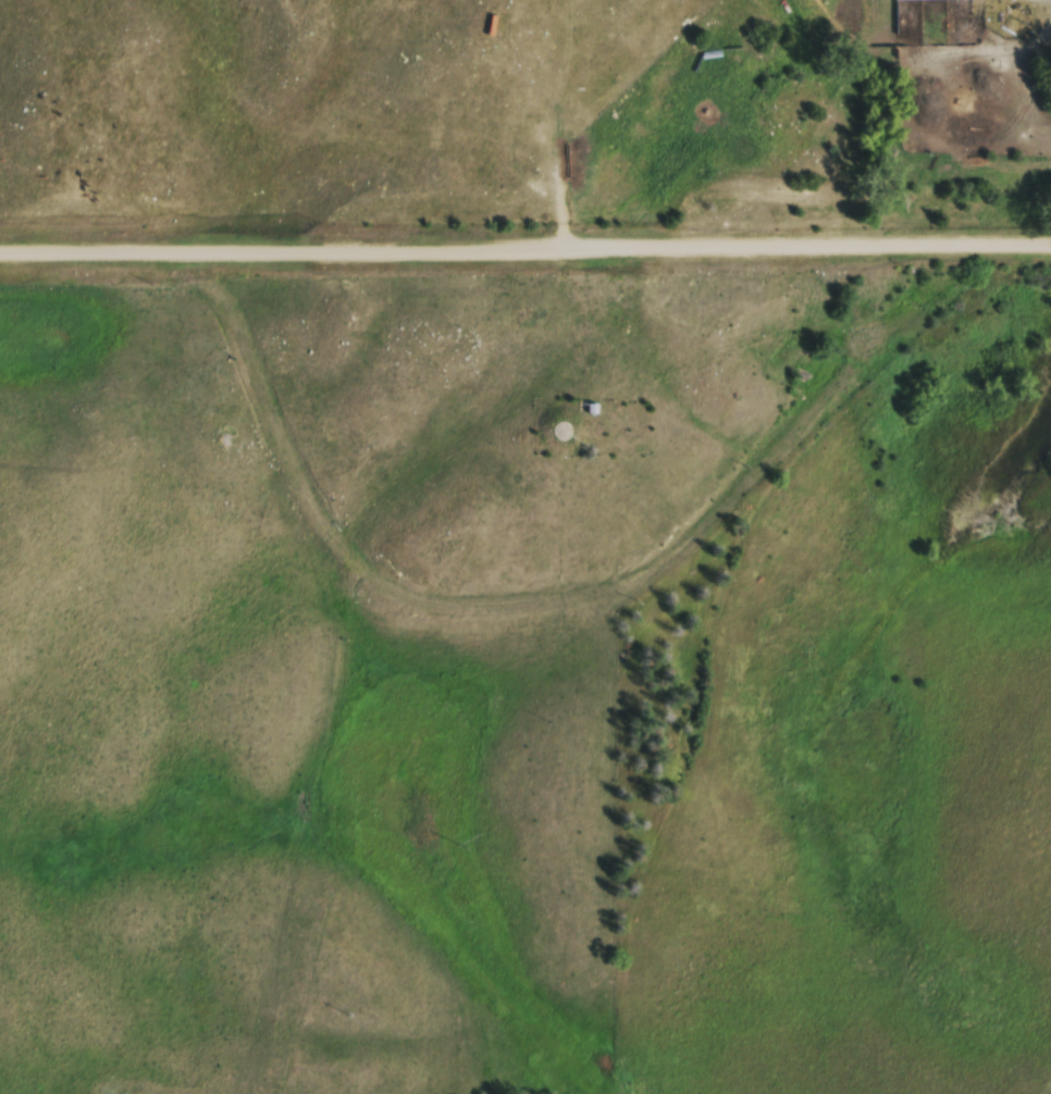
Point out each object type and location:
building: (935, 0)
road: (525, 250)
building: (562, 434)

